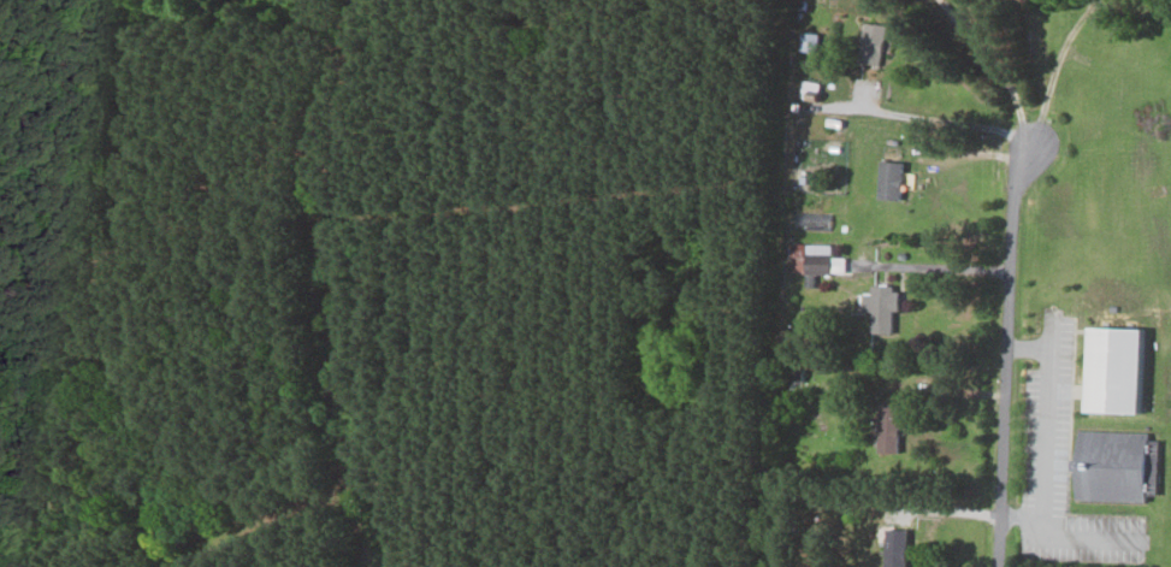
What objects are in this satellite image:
building: (806, 42)
building: (868, 43)
road: (998, 67)
road: (1054, 71)
road: (948, 120)
building: (886, 181)
building: (820, 260)
road: (948, 268)
road: (326, 278)
building: (880, 308)
road: (1006, 356)
building: (1111, 371)
building: (887, 427)
road: (1045, 429)
building: (1107, 466)
road: (1080, 536)
road: (369, 562)

